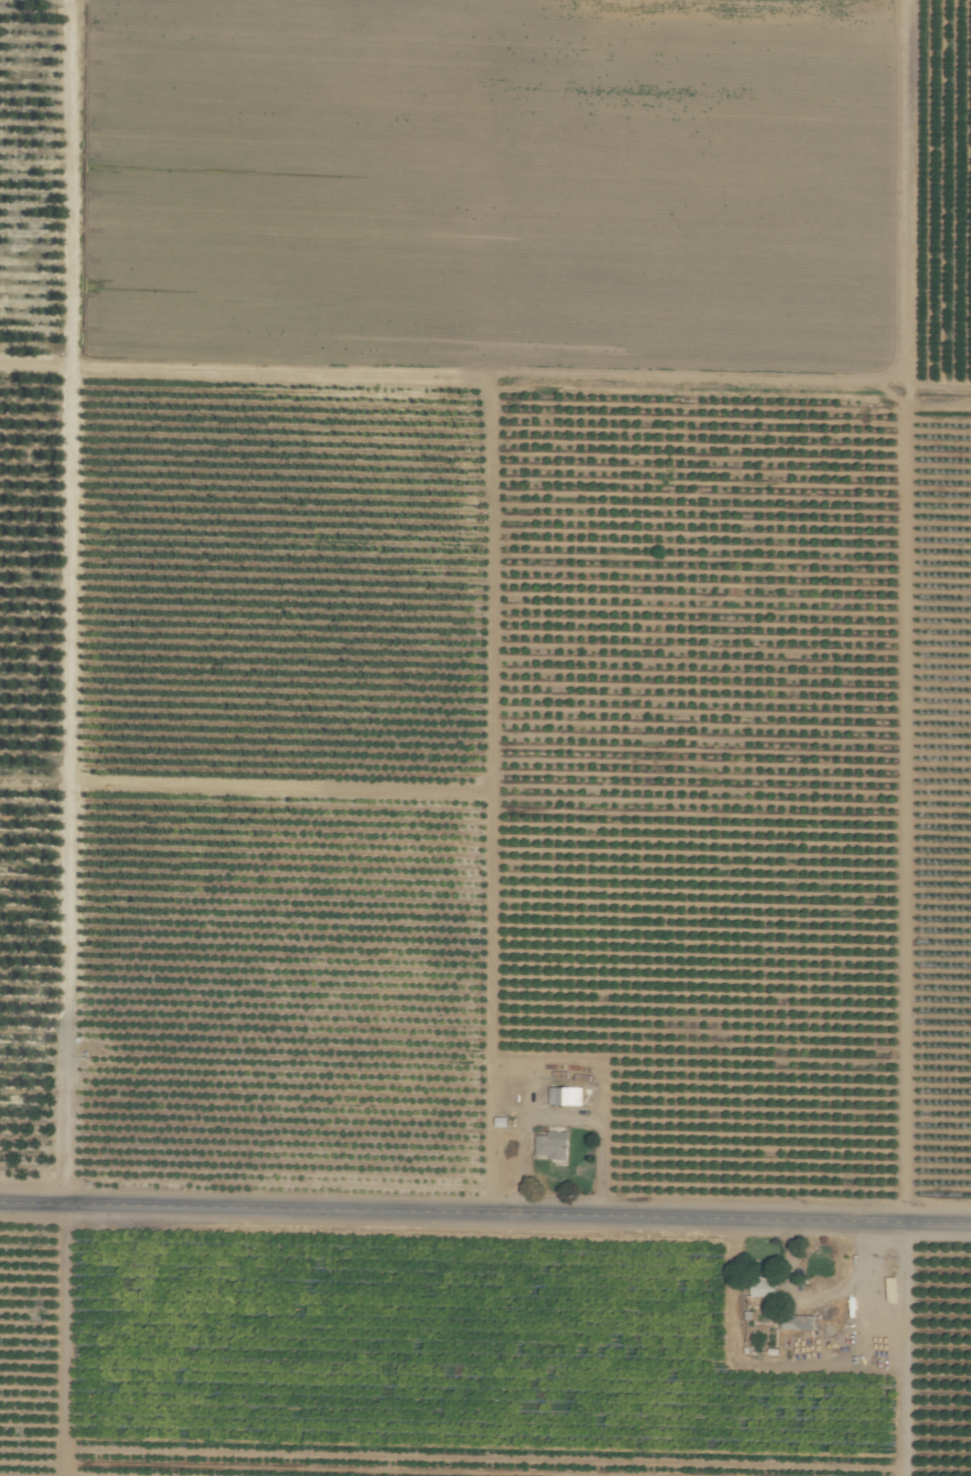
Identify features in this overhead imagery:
crop: (485, 738)
road: (564, 1117)
building: (552, 1144)
road: (485, 1216)
building: (764, 1287)
building: (799, 1322)
road: (821, 1368)

